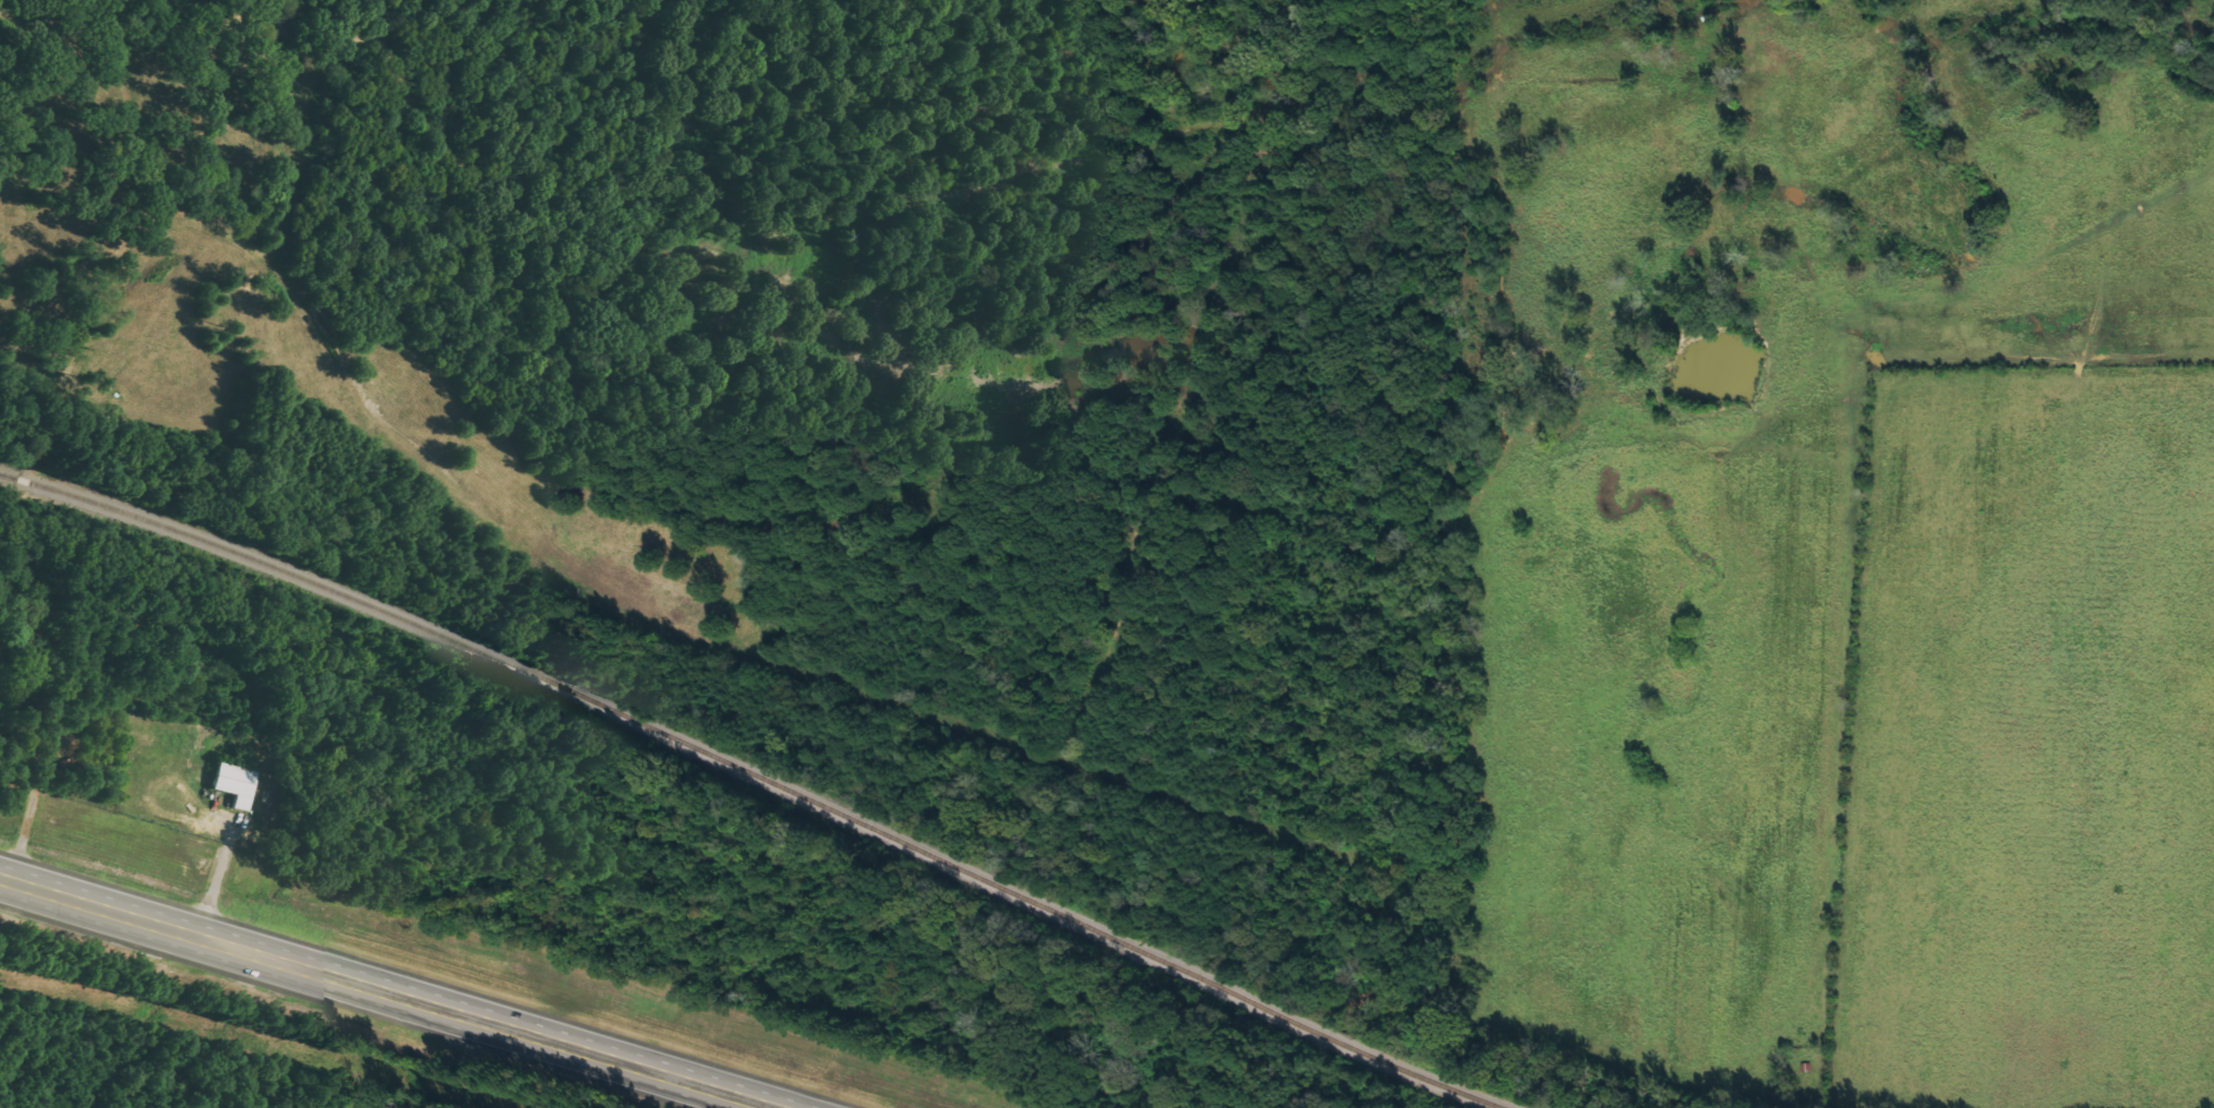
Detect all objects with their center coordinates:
railway: (758, 778)
building: (239, 783)
road: (384, 992)

